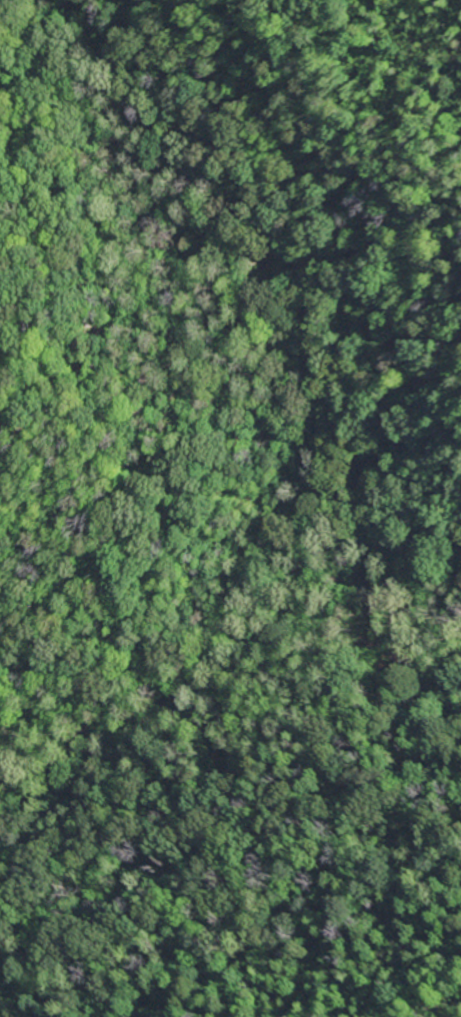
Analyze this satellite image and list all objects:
road: (222, 564)

